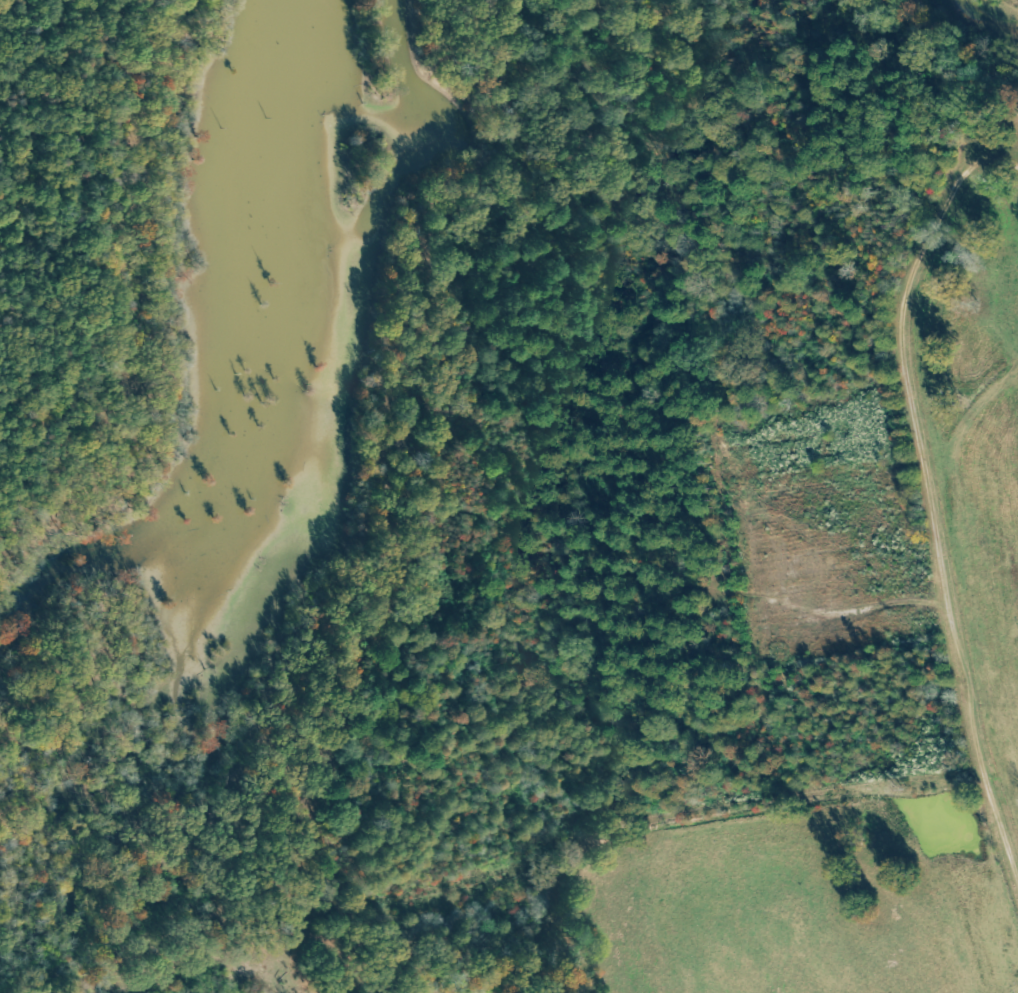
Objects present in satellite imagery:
road: (977, 165)
road: (1002, 518)
road: (937, 534)

